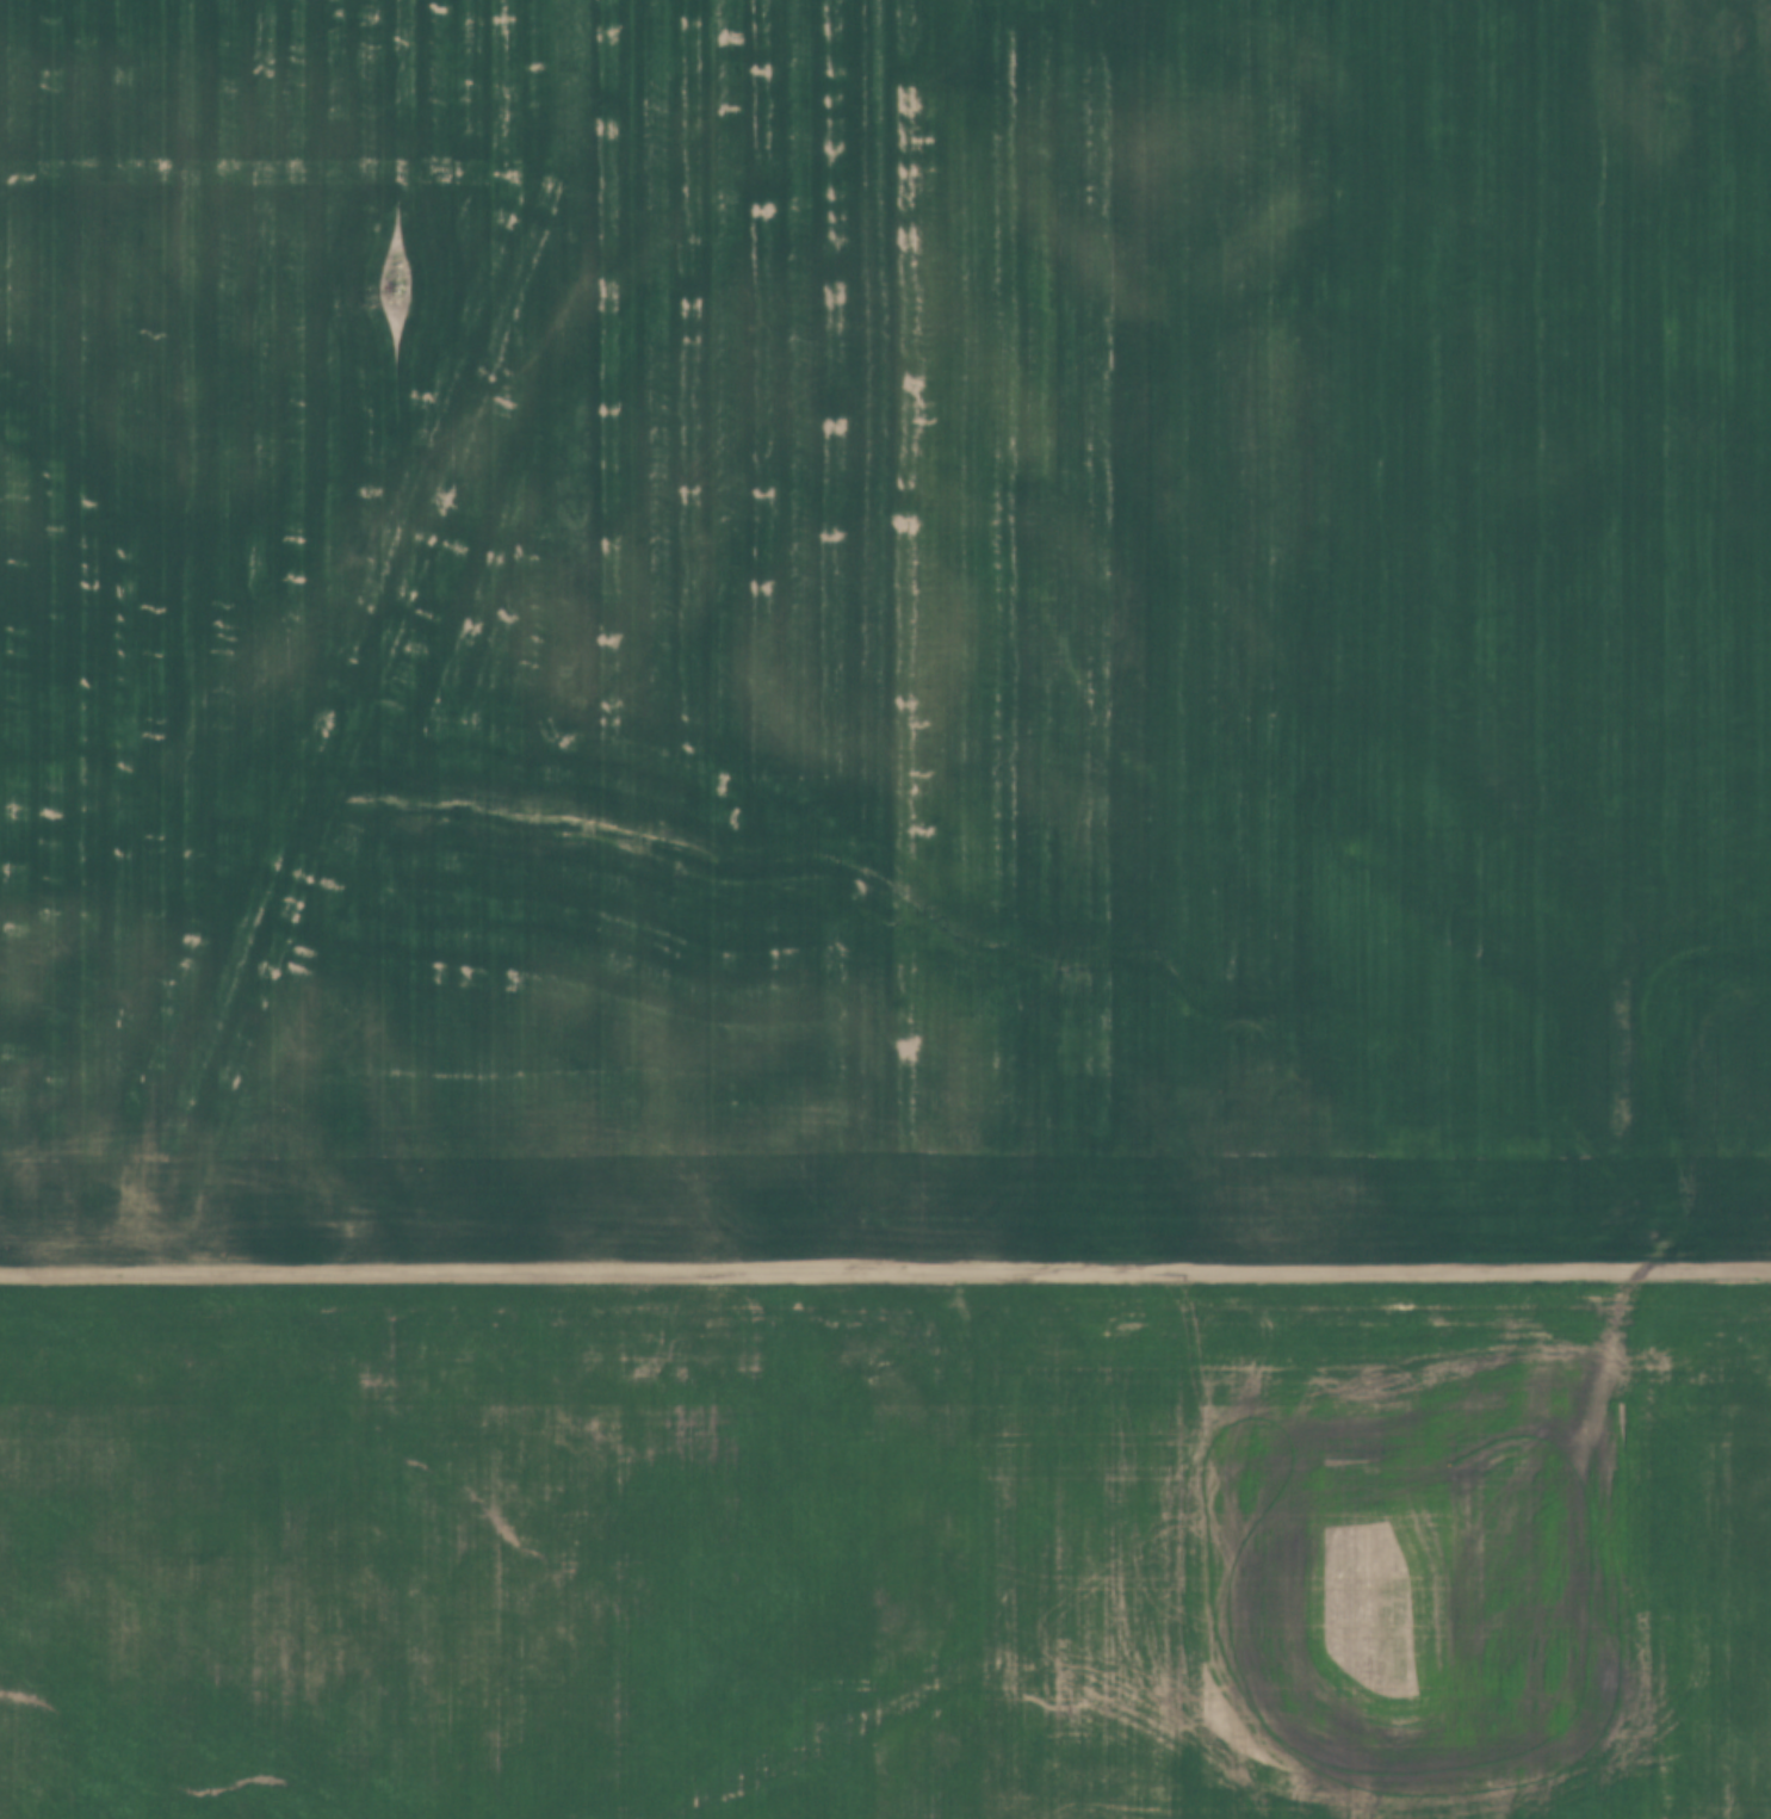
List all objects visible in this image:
road: (885, 1273)

